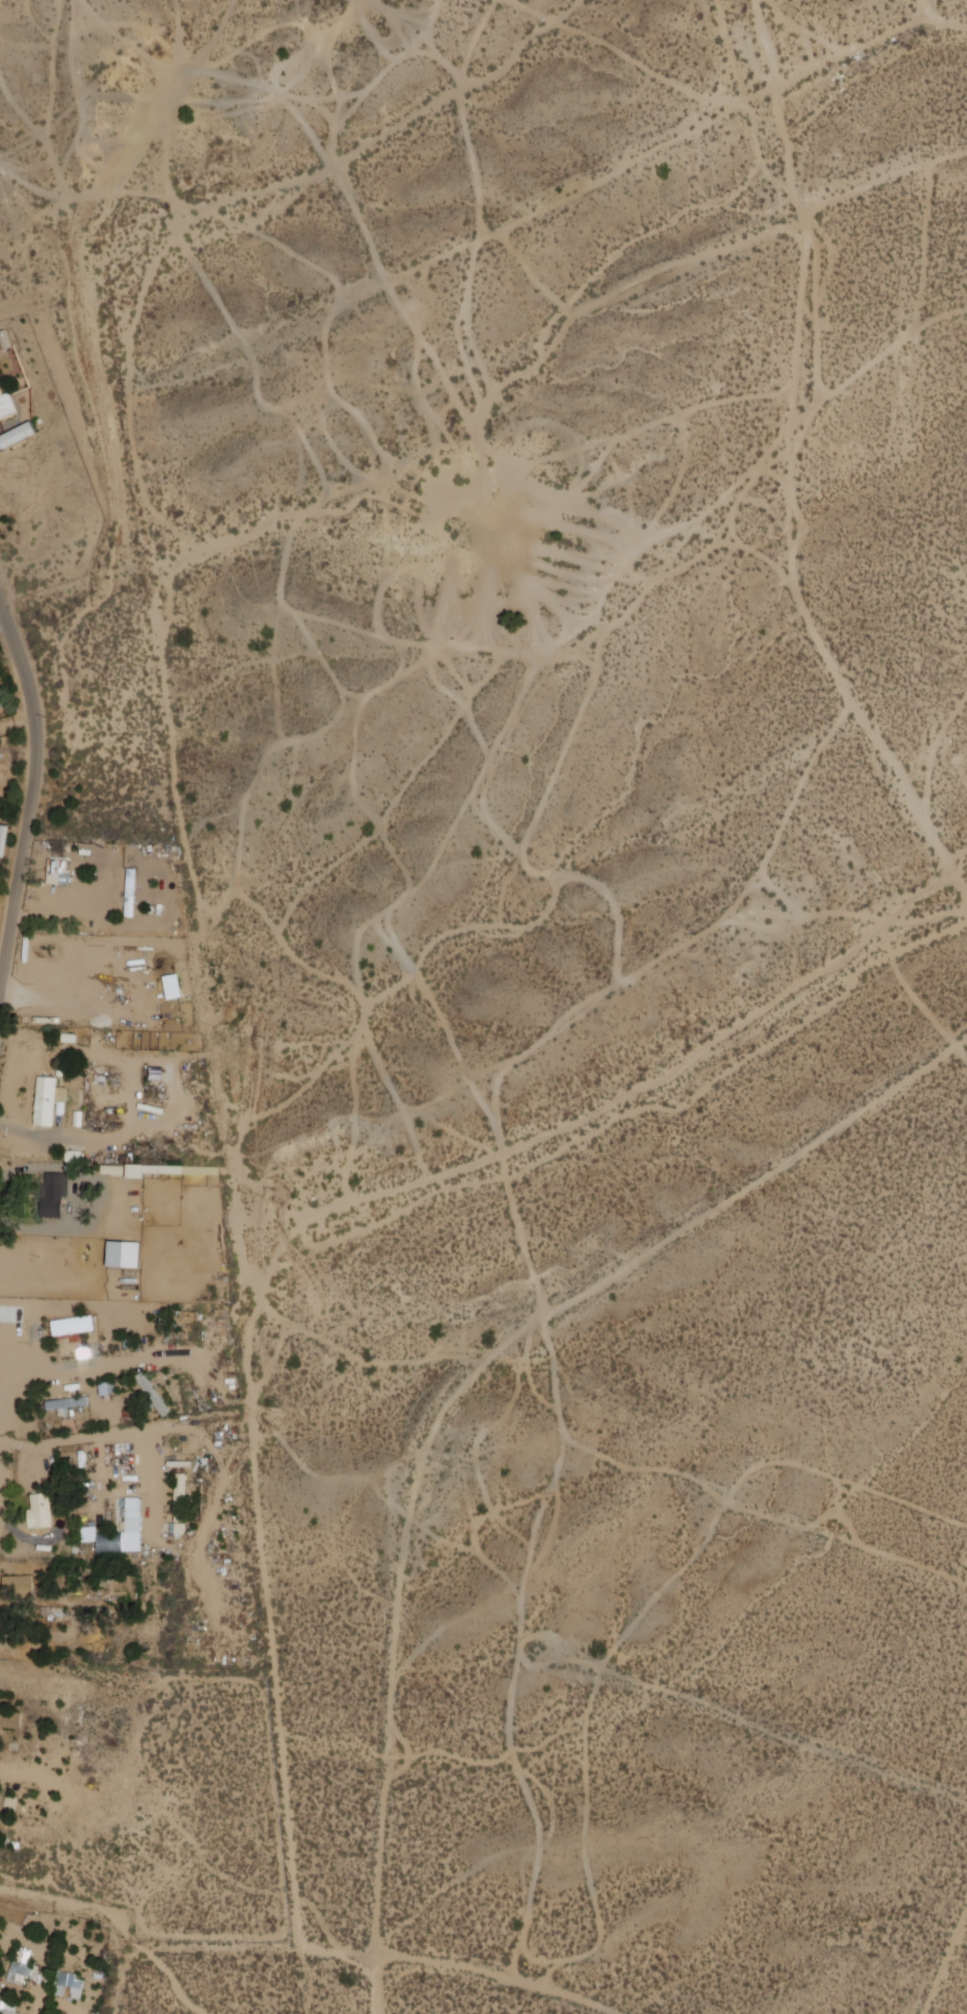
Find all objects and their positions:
building: (7, 404)
building: (17, 435)
road: (3, 615)
building: (2, 699)
road: (33, 799)
building: (4, 840)
building: (61, 872)
building: (132, 894)
building: (103, 983)
building: (51, 1100)
building: (72, 1156)
building: (112, 1170)
building: (155, 1170)
building: (56, 1196)
building: (125, 1255)
building: (73, 1325)
building: (108, 1388)
building: (156, 1397)
building: (68, 1406)
building: (182, 1497)
building: (42, 1513)
building: (123, 1534)
building: (19, 1585)
building: (10, 1719)
building: (25, 1969)
road: (497, 1976)
building: (70, 1985)
building: (8, 2007)

